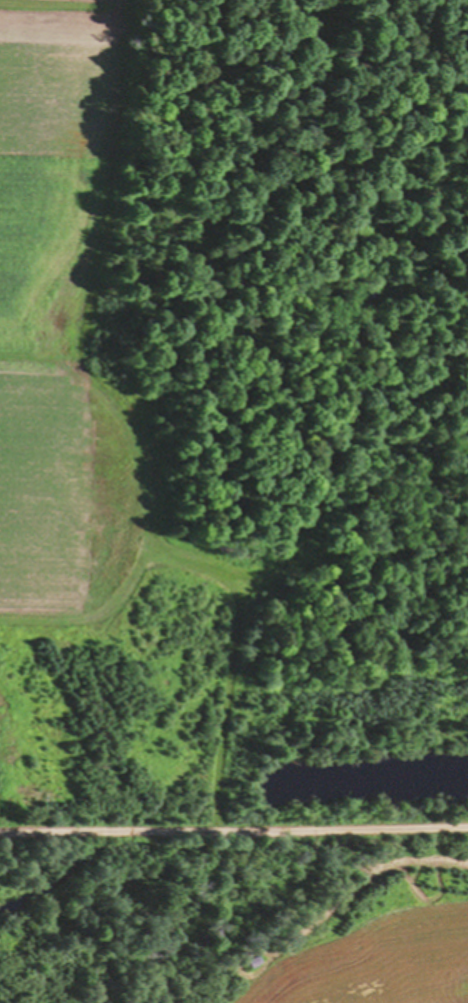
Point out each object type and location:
road: (234, 828)

